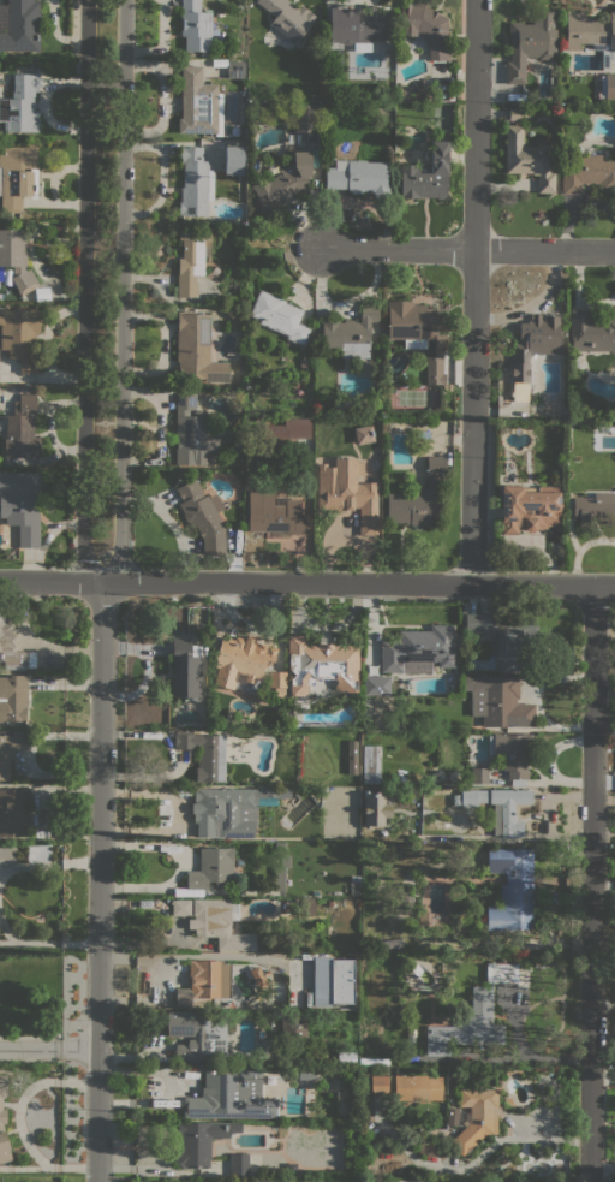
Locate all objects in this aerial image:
building: (288, 18)
building: (20, 25)
building: (195, 26)
building: (359, 26)
building: (425, 28)
building: (591, 34)
building: (530, 43)
building: (243, 53)
building: (235, 69)
building: (608, 85)
building: (20, 103)
building: (199, 103)
building: (518, 114)
building: (304, 118)
building: (527, 159)
building: (233, 160)
building: (586, 173)
building: (426, 174)
building: (17, 176)
building: (358, 177)
building: (195, 183)
building: (285, 183)
road: (467, 250)
building: (16, 260)
building: (191, 260)
road: (473, 291)
road: (84, 293)
road: (121, 293)
building: (280, 316)
building: (350, 332)
building: (591, 332)
building: (418, 333)
building: (19, 337)
building: (196, 349)
building: (532, 349)
building: (304, 363)
building: (500, 374)
building: (500, 382)
building: (448, 386)
building: (20, 429)
building: (286, 430)
building: (191, 432)
building: (362, 434)
building: (346, 493)
building: (420, 498)
building: (20, 505)
building: (529, 507)
building: (593, 509)
building: (274, 515)
building: (202, 516)
road: (307, 583)
building: (501, 637)
building: (10, 643)
building: (418, 649)
building: (240, 660)
building: (320, 665)
building: (186, 669)
building: (276, 683)
building: (376, 685)
building: (13, 697)
building: (497, 701)
building: (366, 702)
building: (295, 723)
building: (10, 749)
building: (234, 750)
building: (204, 754)
building: (512, 754)
building: (233, 756)
building: (352, 758)
building: (370, 764)
building: (479, 774)
building: (455, 800)
road: (604, 800)
building: (500, 808)
building: (375, 809)
building: (13, 812)
building: (225, 812)
road: (603, 834)
building: (398, 848)
building: (38, 853)
building: (7, 854)
road: (48, 863)
building: (280, 866)
building: (211, 868)
building: (354, 878)
road: (100, 881)
road: (592, 884)
building: (512, 889)
building: (406, 898)
building: (307, 907)
building: (40, 916)
building: (422, 916)
building: (216, 921)
road: (44, 942)
building: (392, 943)
building: (376, 944)
building: (333, 980)
building: (204, 981)
building: (473, 1015)
building: (293, 1024)
building: (197, 1033)
road: (30, 1047)
road: (80, 1047)
building: (306, 1073)
building: (378, 1085)
building: (417, 1087)
building: (229, 1095)
building: (476, 1118)
building: (2, 1121)
building: (204, 1140)
building: (430, 1148)
building: (239, 1164)
building: (291, 1168)
building: (193, 1181)
building: (202, 1181)
building: (256, 1181)
building: (265, 1181)
building: (281, 1181)

